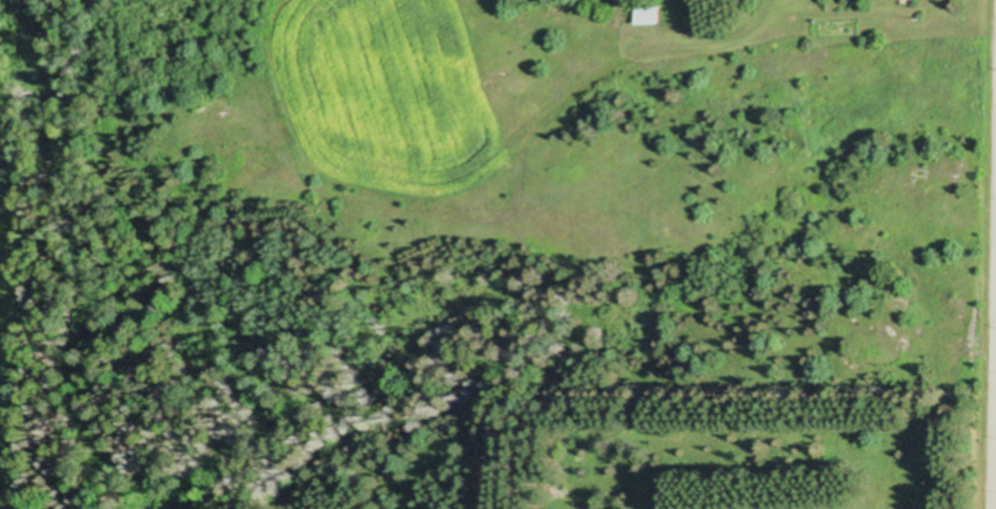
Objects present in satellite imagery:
road: (993, 376)

